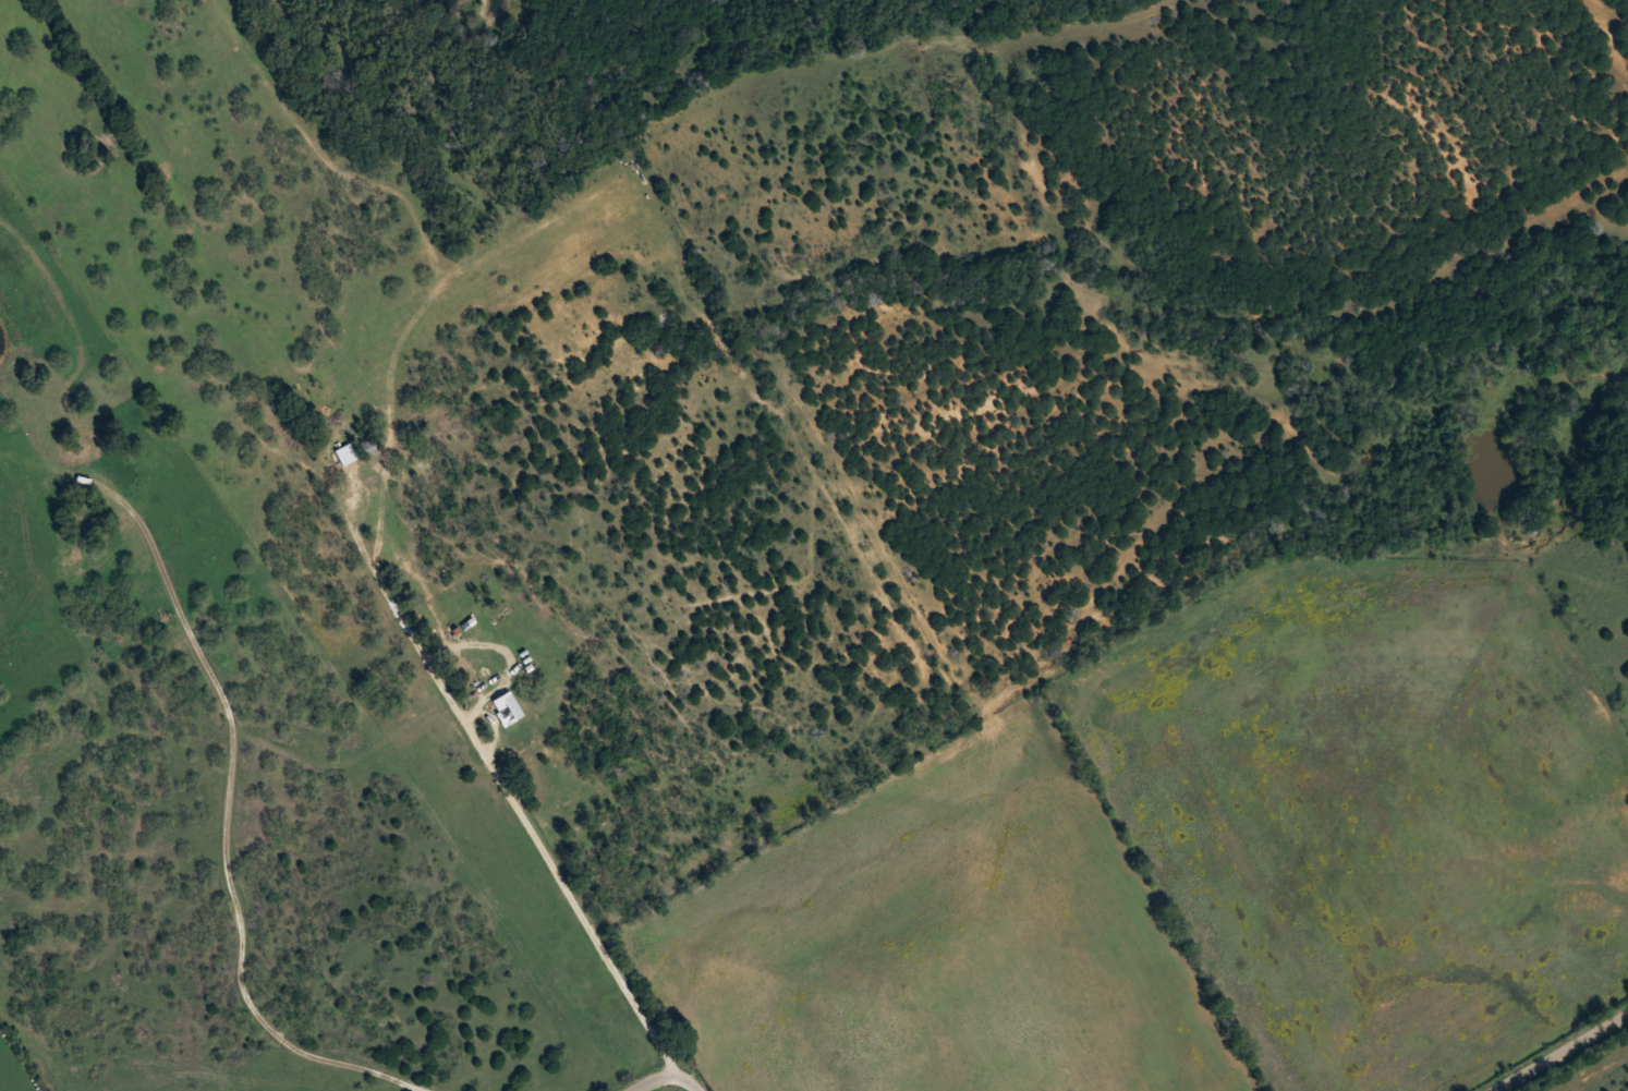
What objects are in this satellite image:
road: (1524, 401)
building: (366, 445)
road: (404, 675)
building: (508, 707)
road: (1555, 1050)

